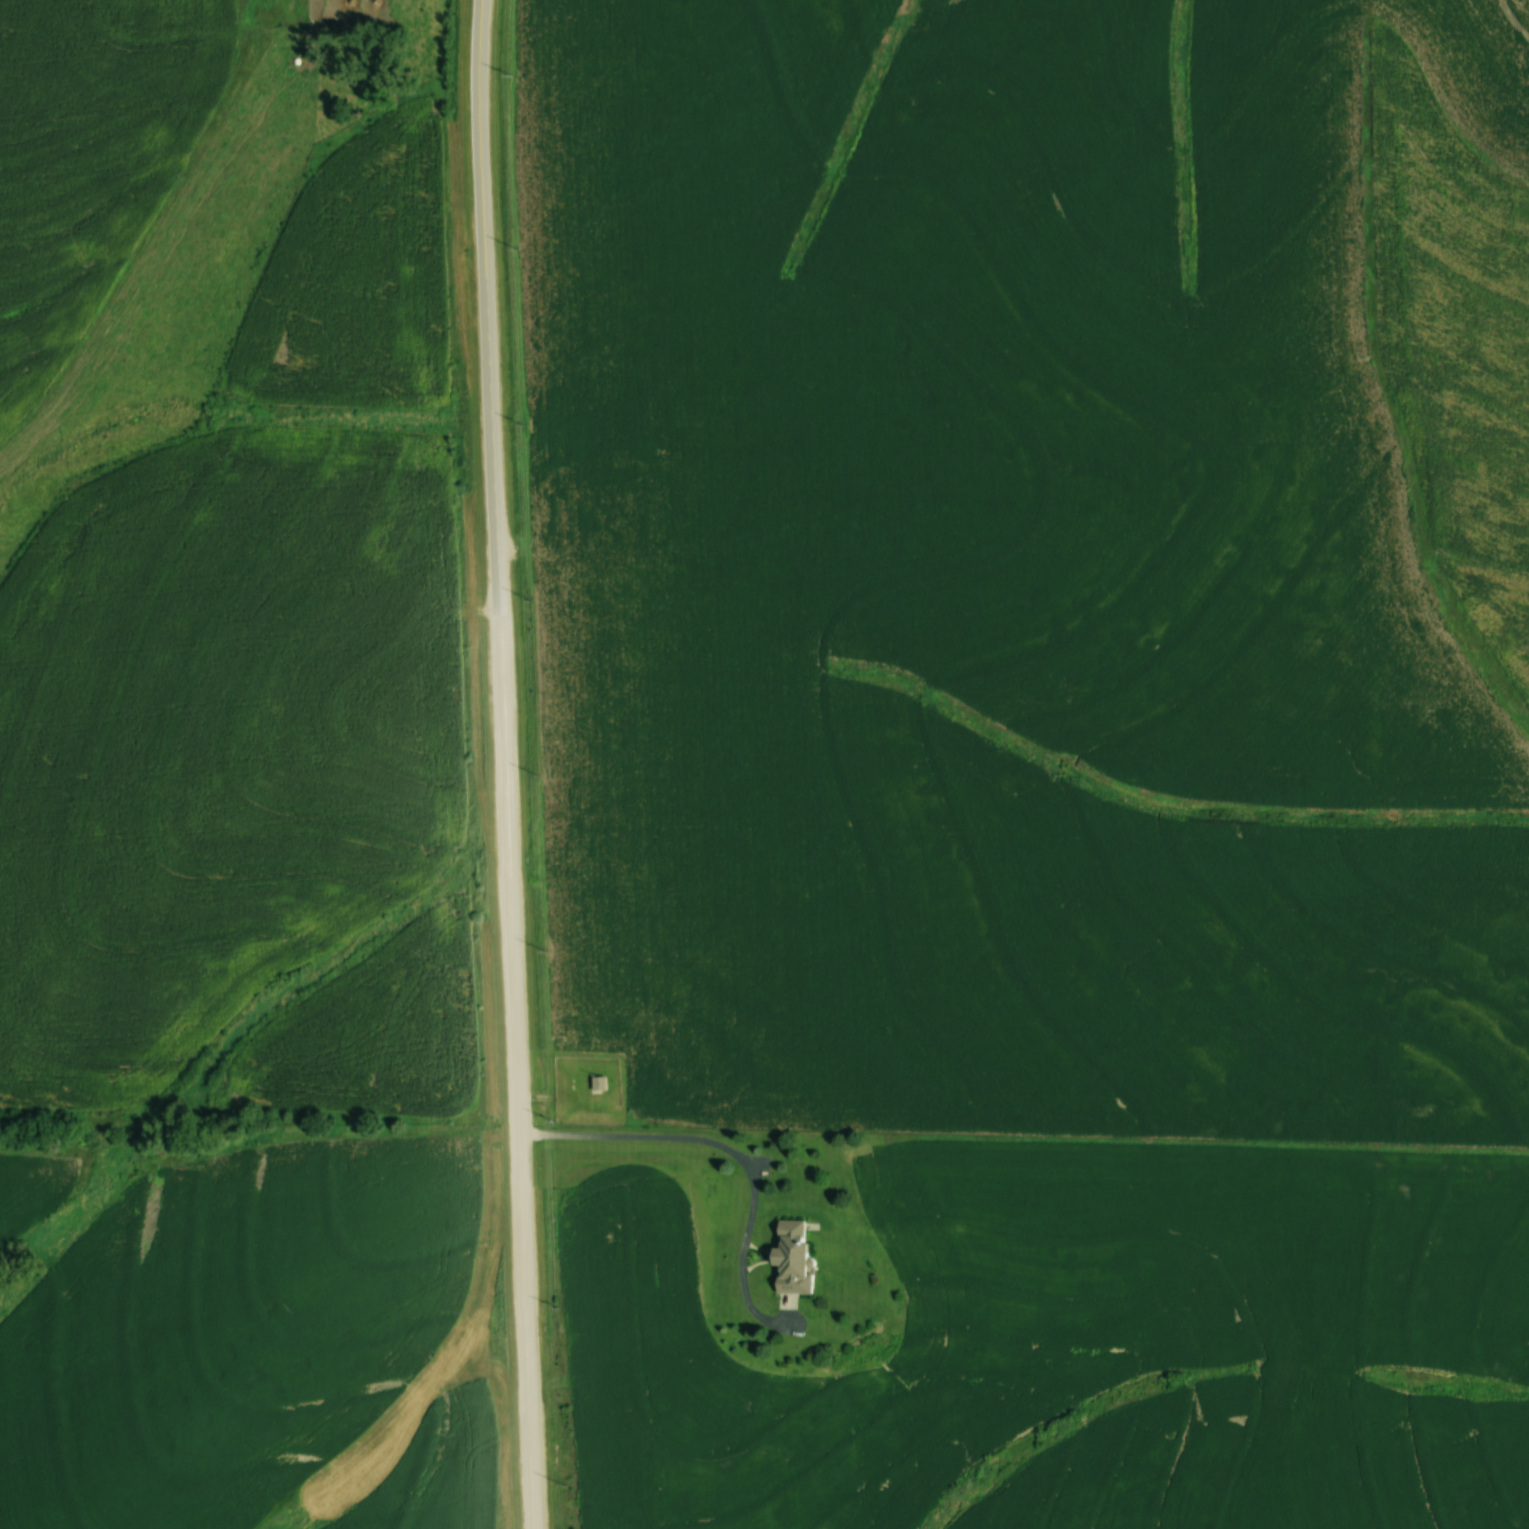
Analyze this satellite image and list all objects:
road: (496, 568)
building: (597, 1084)
road: (738, 1155)
building: (790, 1257)
road: (526, 1333)

